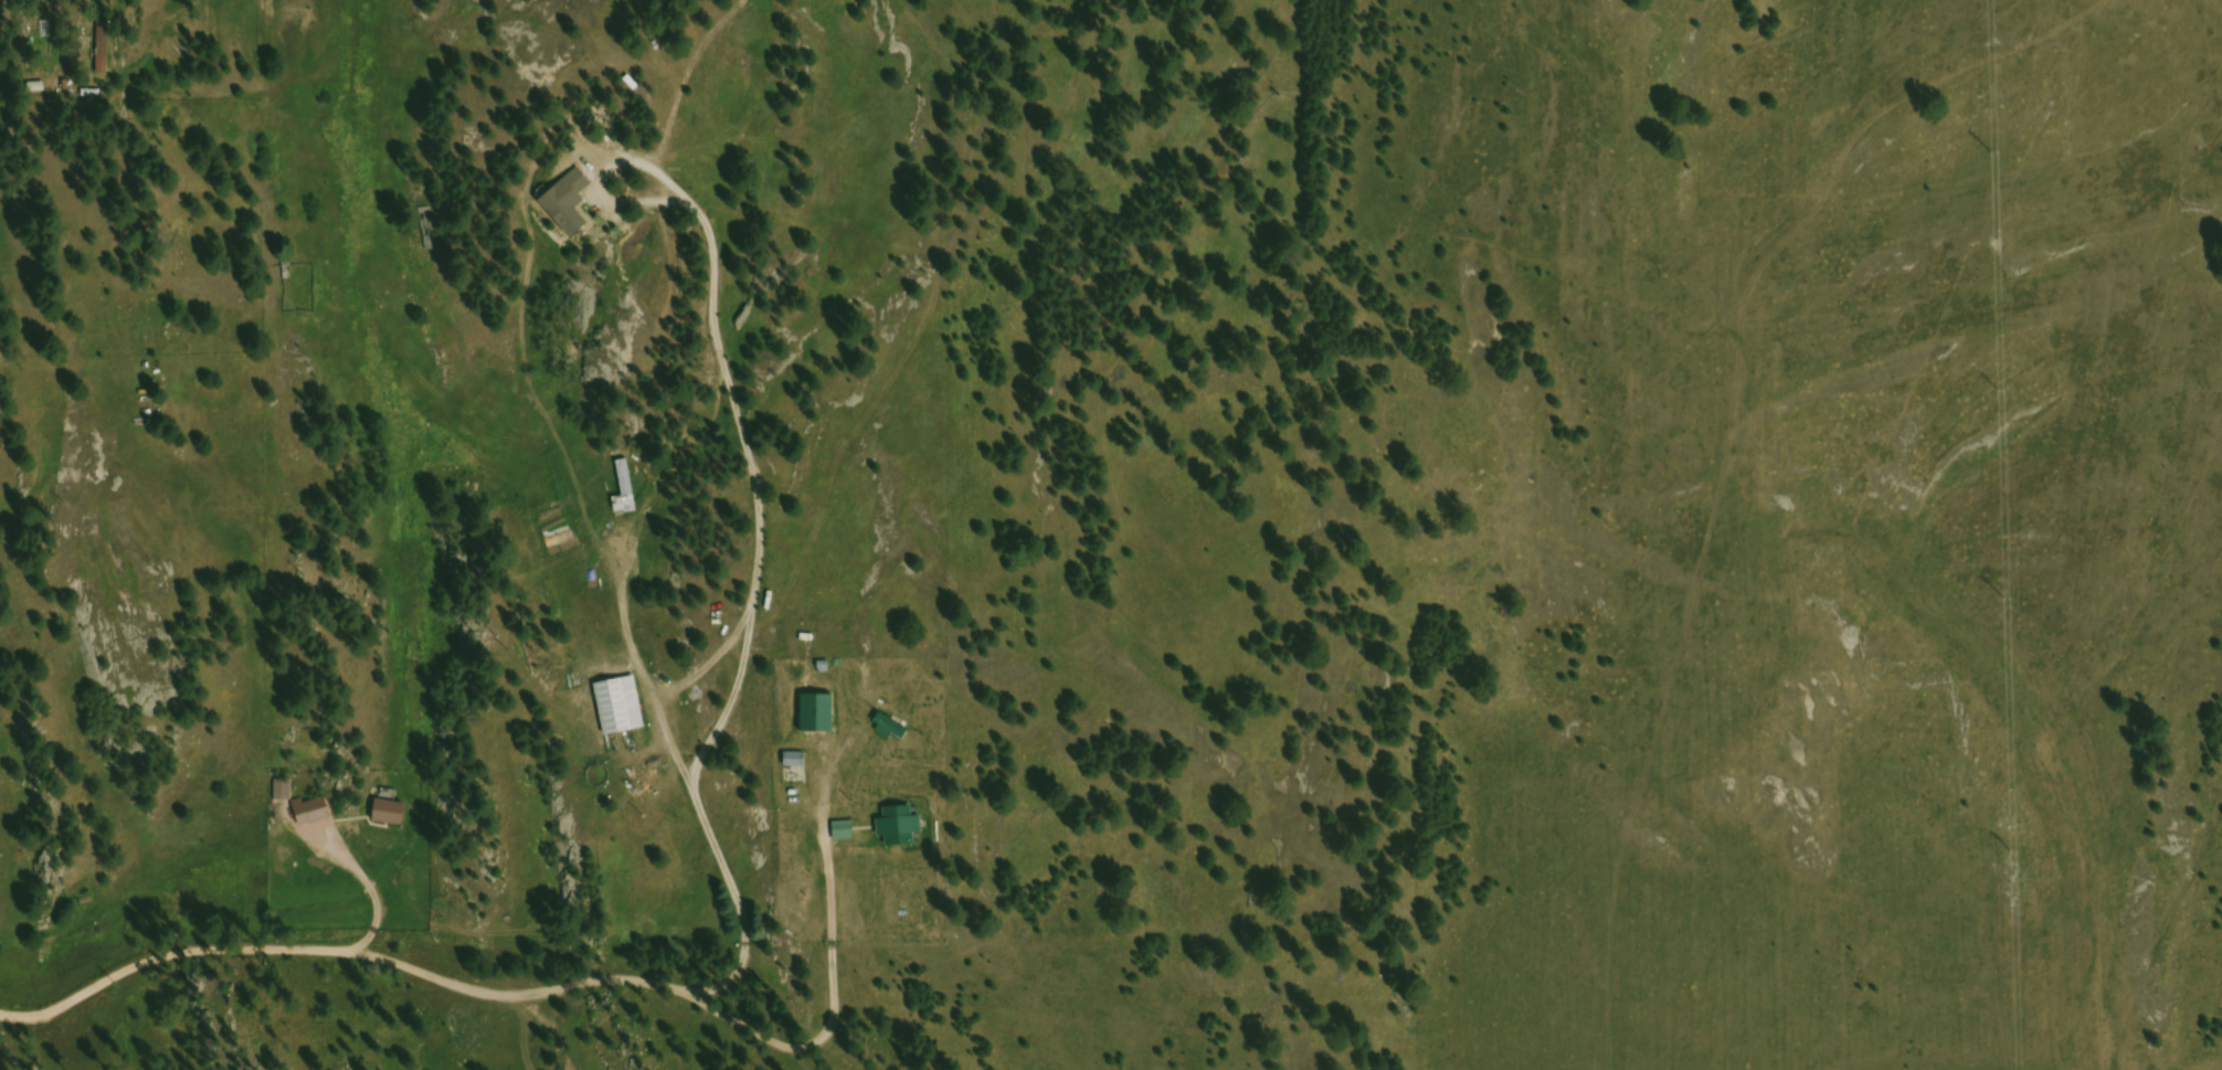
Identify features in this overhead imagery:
building: (107, 50)
building: (571, 204)
building: (623, 709)
building: (821, 716)
building: (796, 770)
building: (285, 792)
building: (315, 814)
building: (392, 815)
building: (902, 829)
building: (845, 834)
road: (456, 985)

